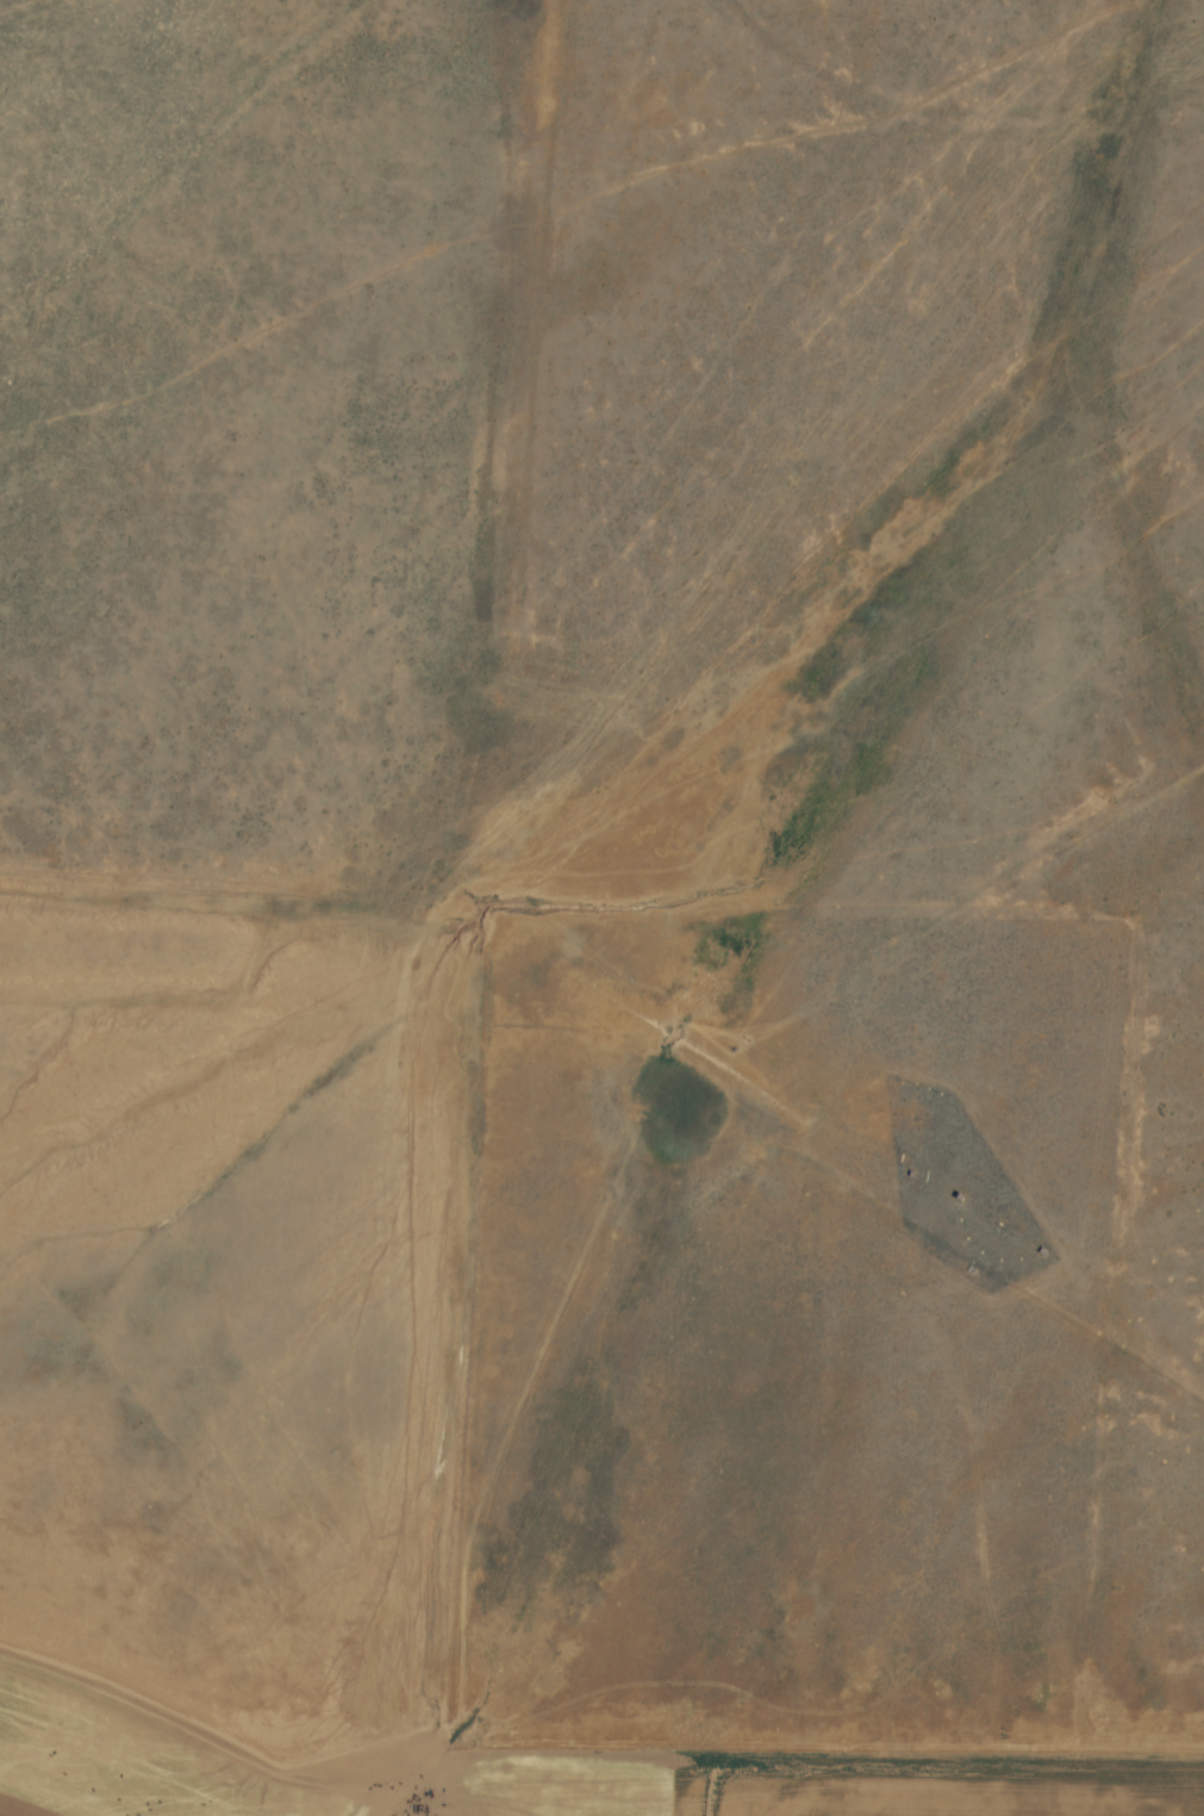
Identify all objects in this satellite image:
road: (1012, 870)

